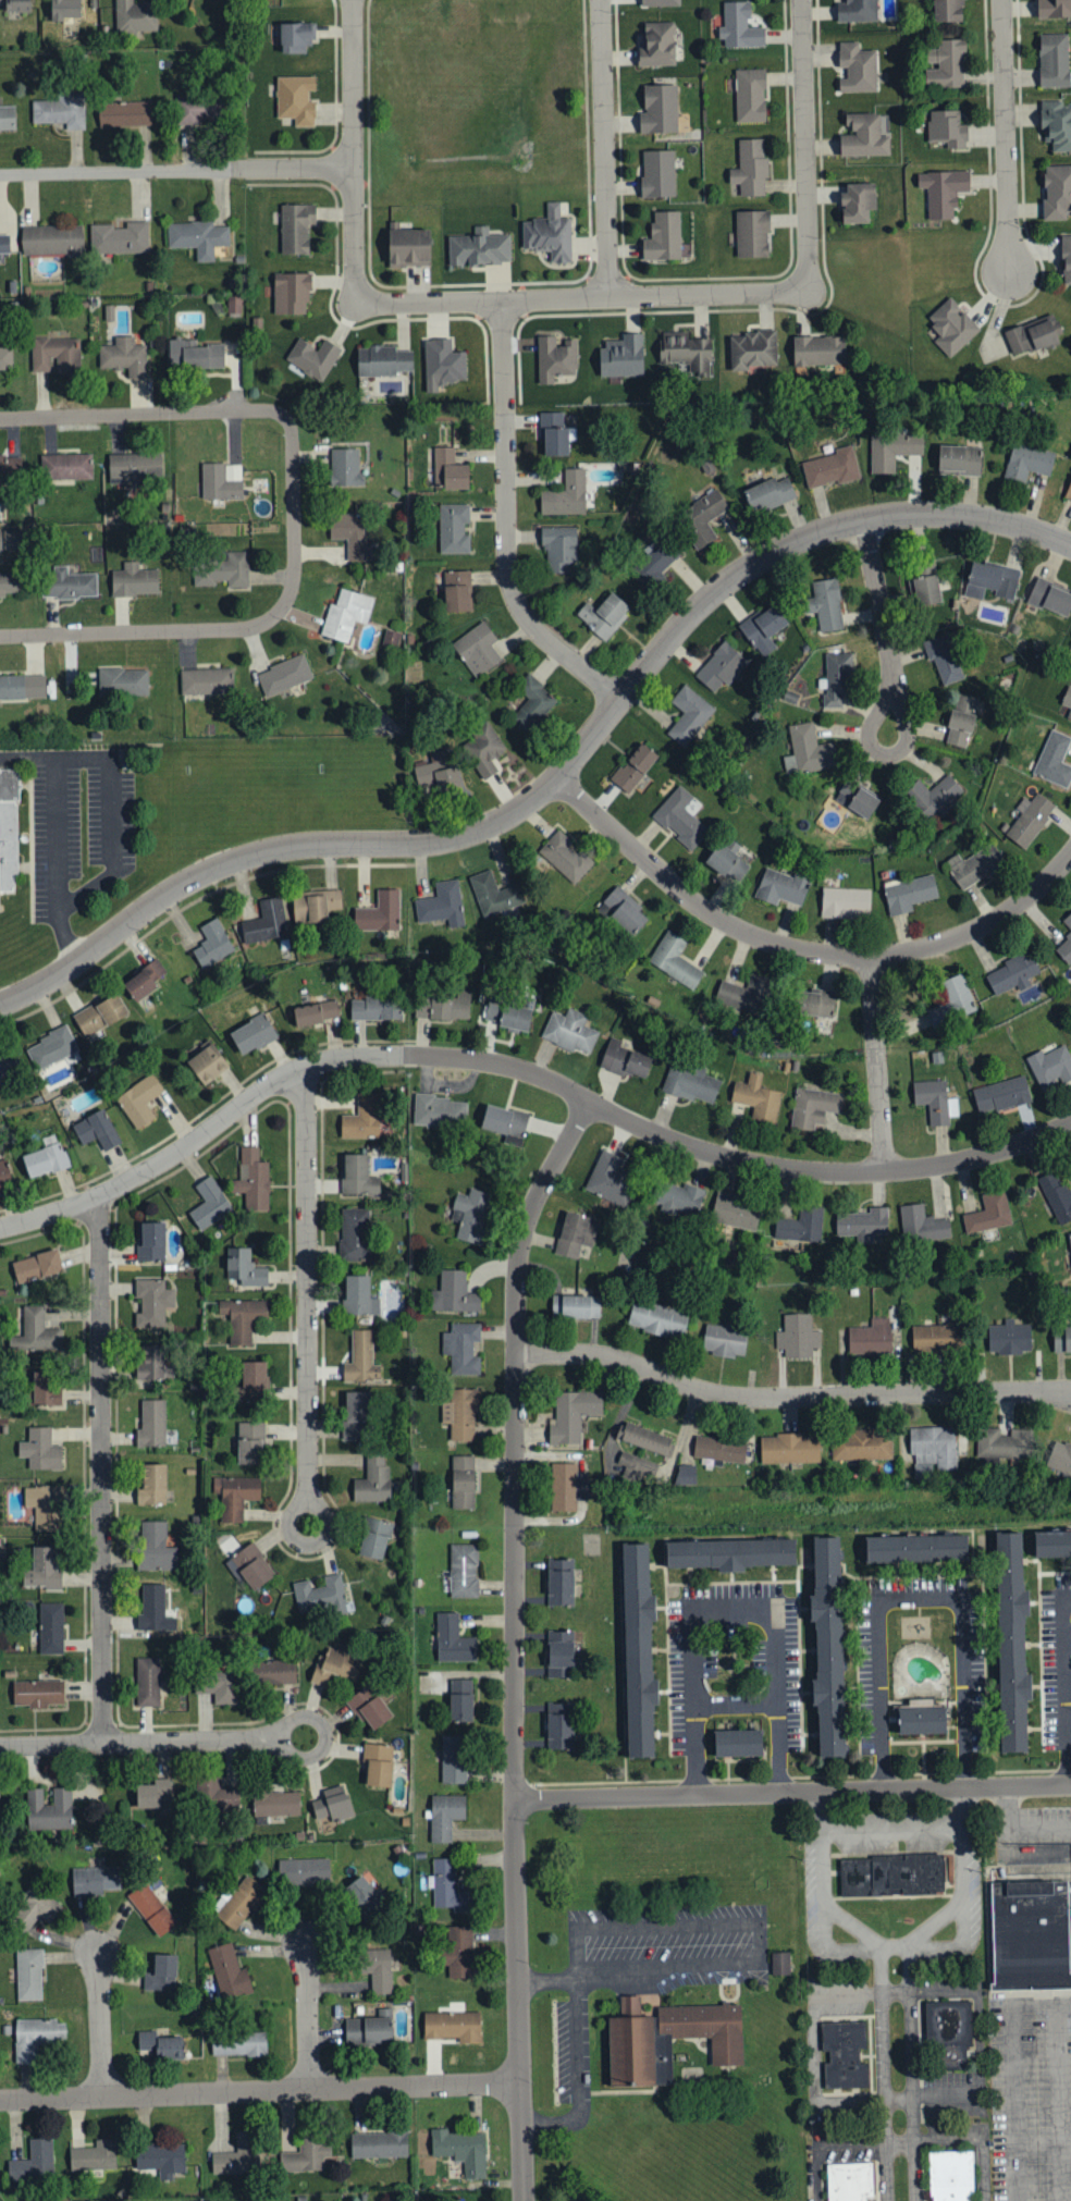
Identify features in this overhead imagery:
building: (660, 2)
building: (16, 5)
building: (64, 9)
building: (889, 9)
building: (1054, 9)
building: (858, 11)
building: (948, 11)
building: (135, 16)
building: (739, 27)
building: (294, 38)
building: (656, 44)
building: (1054, 60)
building: (947, 65)
building: (858, 67)
road: (353, 84)
building: (750, 96)
building: (295, 100)
building: (660, 109)
building: (200, 110)
building: (61, 111)
building: (124, 113)
building: (7, 119)
building: (1057, 125)
building: (947, 128)
building: (866, 135)
road: (1001, 136)
road: (803, 146)
road: (604, 148)
building: (750, 168)
road: (176, 170)
building: (658, 174)
building: (943, 192)
building: (1057, 192)
building: (858, 204)
building: (296, 229)
building: (550, 233)
building: (753, 234)
road: (354, 236)
building: (197, 237)
building: (119, 238)
building: (664, 238)
building: (51, 241)
building: (3, 245)
building: (408, 248)
building: (479, 250)
building: (1067, 259)
building: (291, 294)
road: (581, 297)
building: (234, 306)
building: (951, 328)
building: (1030, 337)
building: (752, 351)
building: (818, 351)
building: (686, 353)
building: (56, 355)
building: (194, 355)
building: (124, 357)
building: (621, 357)
building: (5, 358)
building: (312, 358)
building: (555, 359)
building: (383, 361)
building: (444, 362)
road: (143, 414)
building: (555, 435)
building: (892, 451)
building: (959, 459)
building: (1027, 462)
building: (10, 466)
building: (65, 467)
building: (135, 467)
building: (345, 468)
building: (830, 468)
building: (448, 470)
building: (221, 481)
building: (768, 494)
building: (1069, 494)
building: (566, 495)
building: (702, 518)
road: (505, 521)
building: (454, 529)
building: (223, 532)
building: (350, 534)
building: (12, 540)
building: (559, 549)
road: (768, 552)
building: (652, 566)
building: (221, 570)
building: (134, 581)
building: (992, 581)
building: (9, 583)
building: (70, 583)
building: (926, 591)
building: (456, 592)
building: (1050, 598)
building: (826, 605)
building: (345, 615)
building: (604, 616)
road: (881, 625)
road: (242, 628)
building: (763, 629)
building: (477, 650)
building: (944, 660)
building: (721, 667)
building: (284, 676)
building: (836, 680)
building: (123, 681)
building: (207, 681)
building: (22, 687)
building: (1068, 701)
building: (533, 704)
building: (689, 716)
building: (961, 721)
building: (483, 751)
building: (808, 751)
building: (1054, 761)
road: (555, 764)
building: (633, 768)
building: (436, 773)
building: (935, 797)
building: (857, 800)
building: (680, 819)
road: (112, 820)
building: (1030, 822)
parking lot: (78, 823)
building: (9, 833)
road: (56, 834)
road: (266, 853)
building: (565, 858)
building: (726, 863)
building: (975, 866)
building: (780, 888)
building: (908, 894)
building: (493, 895)
road: (691, 900)
building: (846, 903)
building: (442, 906)
building: (313, 907)
building: (624, 912)
building: (379, 913)
building: (266, 922)
building: (1068, 922)
road: (980, 924)
building: (212, 945)
building: (1064, 950)
building: (675, 960)
building: (1012, 973)
building: (145, 979)
building: (746, 994)
building: (952, 1000)
building: (816, 1004)
building: (443, 1006)
building: (377, 1008)
building: (316, 1012)
building: (99, 1013)
building: (508, 1015)
building: (569, 1030)
building: (253, 1033)
building: (50, 1047)
building: (624, 1059)
road: (873, 1061)
building: (207, 1063)
building: (5, 1066)
building: (1050, 1066)
road: (526, 1072)
building: (690, 1081)
building: (1001, 1094)
building: (756, 1097)
building: (139, 1100)
building: (935, 1100)
building: (813, 1106)
building: (439, 1109)
building: (362, 1118)
building: (504, 1120)
building: (96, 1130)
building: (45, 1157)
building: (4, 1173)
building: (357, 1176)
building: (611, 1179)
building: (253, 1180)
building: (1056, 1195)
building: (679, 1197)
building: (209, 1203)
building: (736, 1212)
building: (988, 1213)
building: (471, 1214)
building: (921, 1222)
building: (862, 1224)
building: (800, 1225)
building: (576, 1233)
building: (355, 1234)
building: (1070, 1238)
building: (151, 1241)
building: (36, 1266)
building: (244, 1267)
building: (454, 1293)
building: (358, 1295)
building: (152, 1302)
building: (576, 1306)
building: (243, 1318)
building: (657, 1318)
building: (38, 1329)
building: (797, 1335)
building: (870, 1336)
building: (936, 1336)
building: (1008, 1337)
building: (1061, 1338)
building: (724, 1340)
building: (461, 1348)
road: (307, 1350)
building: (361, 1358)
building: (151, 1362)
building: (253, 1380)
building: (45, 1389)
road: (789, 1397)
building: (357, 1414)
building: (460, 1414)
building: (573, 1414)
building: (152, 1424)
building: (645, 1438)
building: (249, 1442)
building: (1004, 1442)
building: (861, 1444)
building: (933, 1446)
building: (718, 1448)
building: (789, 1448)
building: (40, 1449)
building: (1060, 1456)
building: (636, 1466)
road: (102, 1471)
building: (686, 1474)
building: (373, 1480)
building: (463, 1481)
building: (152, 1485)
building: (566, 1486)
building: (234, 1496)
building: (44, 1505)
building: (374, 1538)
building: (1051, 1544)
building: (155, 1547)
building: (915, 1547)
building: (731, 1552)
building: (251, 1566)
building: (42, 1570)
building: (464, 1571)
building: (559, 1582)
building: (320, 1596)
road: (919, 1600)
building: (153, 1610)
road: (735, 1611)
building: (51, 1627)
building: (453, 1640)
building: (1011, 1640)
road: (514, 1643)
building: (827, 1647)
building: (637, 1651)
building: (559, 1653)
building: (334, 1667)
building: (279, 1672)
building: (148, 1682)
building: (219, 1685)
road: (1064, 1685)
road: (1068, 1686)
building: (37, 1693)
building: (460, 1700)
building: (368, 1707)
road: (736, 1707)
building: (921, 1719)
building: (558, 1725)
road: (327, 1738)
building: (737, 1742)
road: (136, 1743)
building: (453, 1759)
building: (377, 1766)
road: (792, 1792)
building: (221, 1795)
building: (155, 1796)
building: (276, 1804)
building: (333, 1805)
building: (49, 1810)
building: (445, 1816)
parking lot: (1030, 1819)
road: (1023, 1820)
road: (892, 1828)
building: (304, 1871)
building: (890, 1873)
building: (94, 1880)
building: (448, 1886)
building: (360, 1894)
building: (241, 1903)
building: (36, 1909)
building: (150, 1909)
road: (752, 1925)
building: (1031, 1934)
road: (896, 1946)
building: (460, 1952)
building: (779, 1963)
building: (378, 1969)
building: (227, 1972)
building: (161, 1973)
building: (28, 1975)
road: (308, 2017)
road: (100, 2025)
building: (453, 2027)
building: (368, 2030)
building: (949, 2030)
building: (36, 2038)
building: (666, 2038)
building: (238, 2043)
building: (160, 2045)
road: (576, 2046)
building: (845, 2055)
road: (898, 2074)
road: (1020, 2083)
road: (260, 2091)
parking lot: (1030, 2097)
building: (379, 2144)
road: (833, 2145)
building: (461, 2150)
building: (94, 2156)
building: (238, 2156)
building: (161, 2159)
building: (34, 2163)
building: (950, 2175)
building: (849, 2180)

